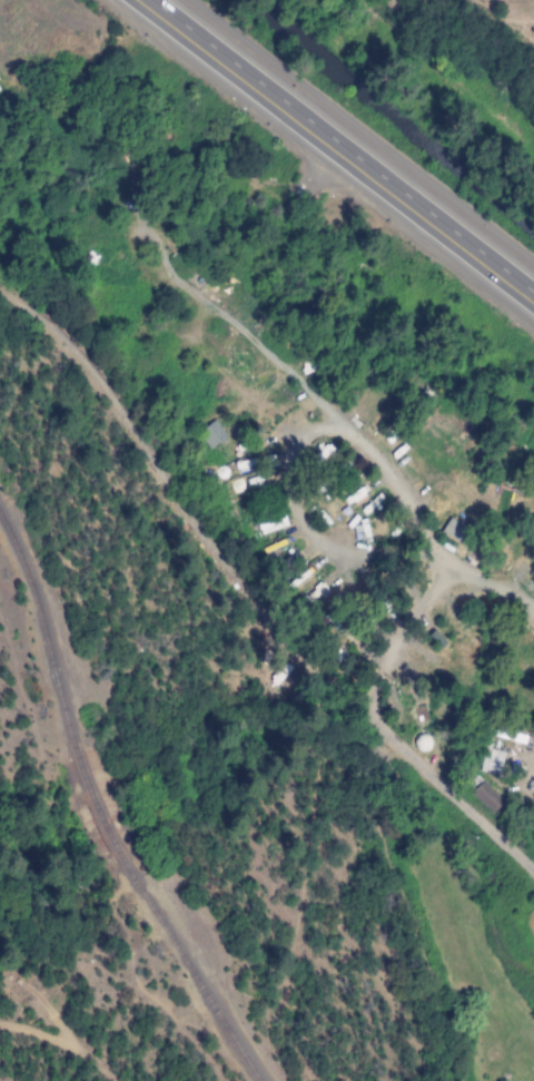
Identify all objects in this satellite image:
river: (382, 116)
road: (360, 130)
road: (342, 146)
road: (204, 313)
building: (211, 435)
road: (284, 455)
building: (246, 482)
building: (270, 523)
building: (453, 531)
road: (486, 586)
railway: (47, 618)
road: (379, 736)
building: (491, 761)
building: (485, 797)
railway: (117, 822)
road: (22, 986)
railway: (208, 987)
road: (57, 1058)

